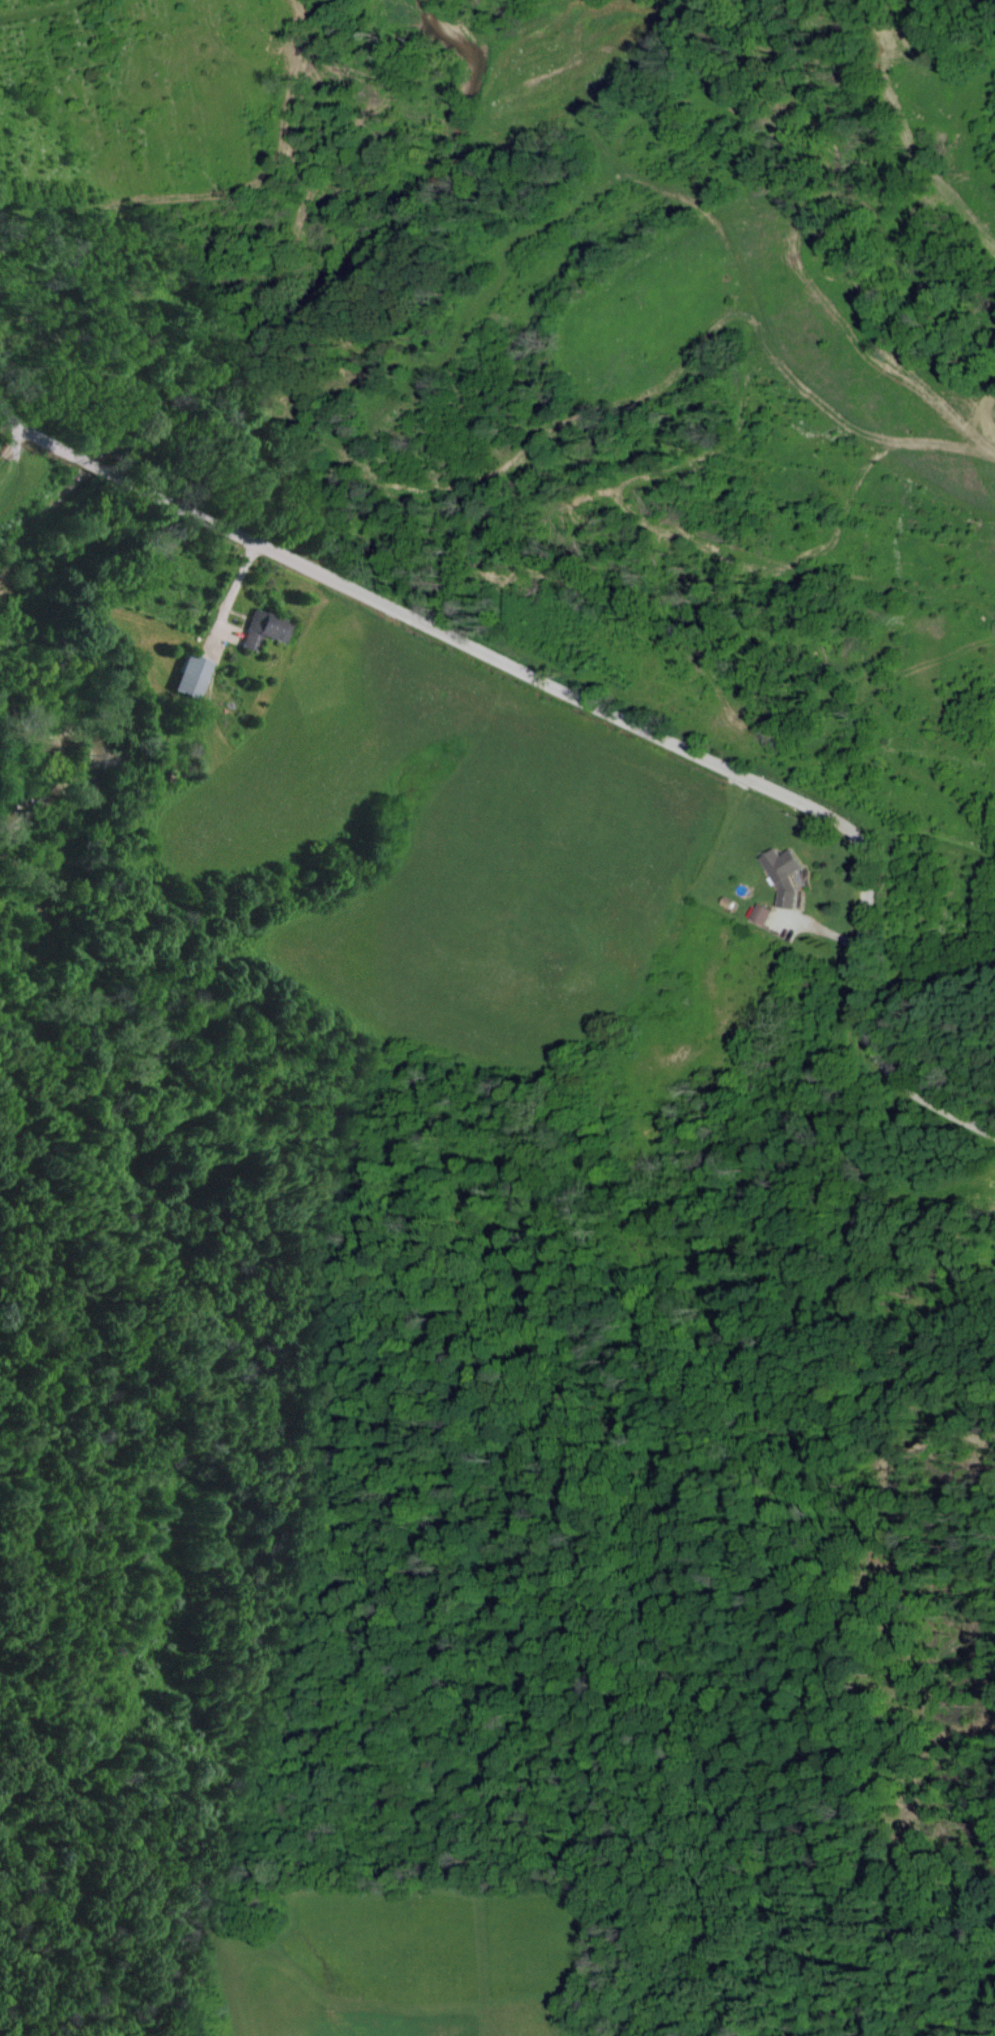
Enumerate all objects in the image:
building: (270, 625)
building: (192, 674)
road: (593, 702)
building: (786, 875)

